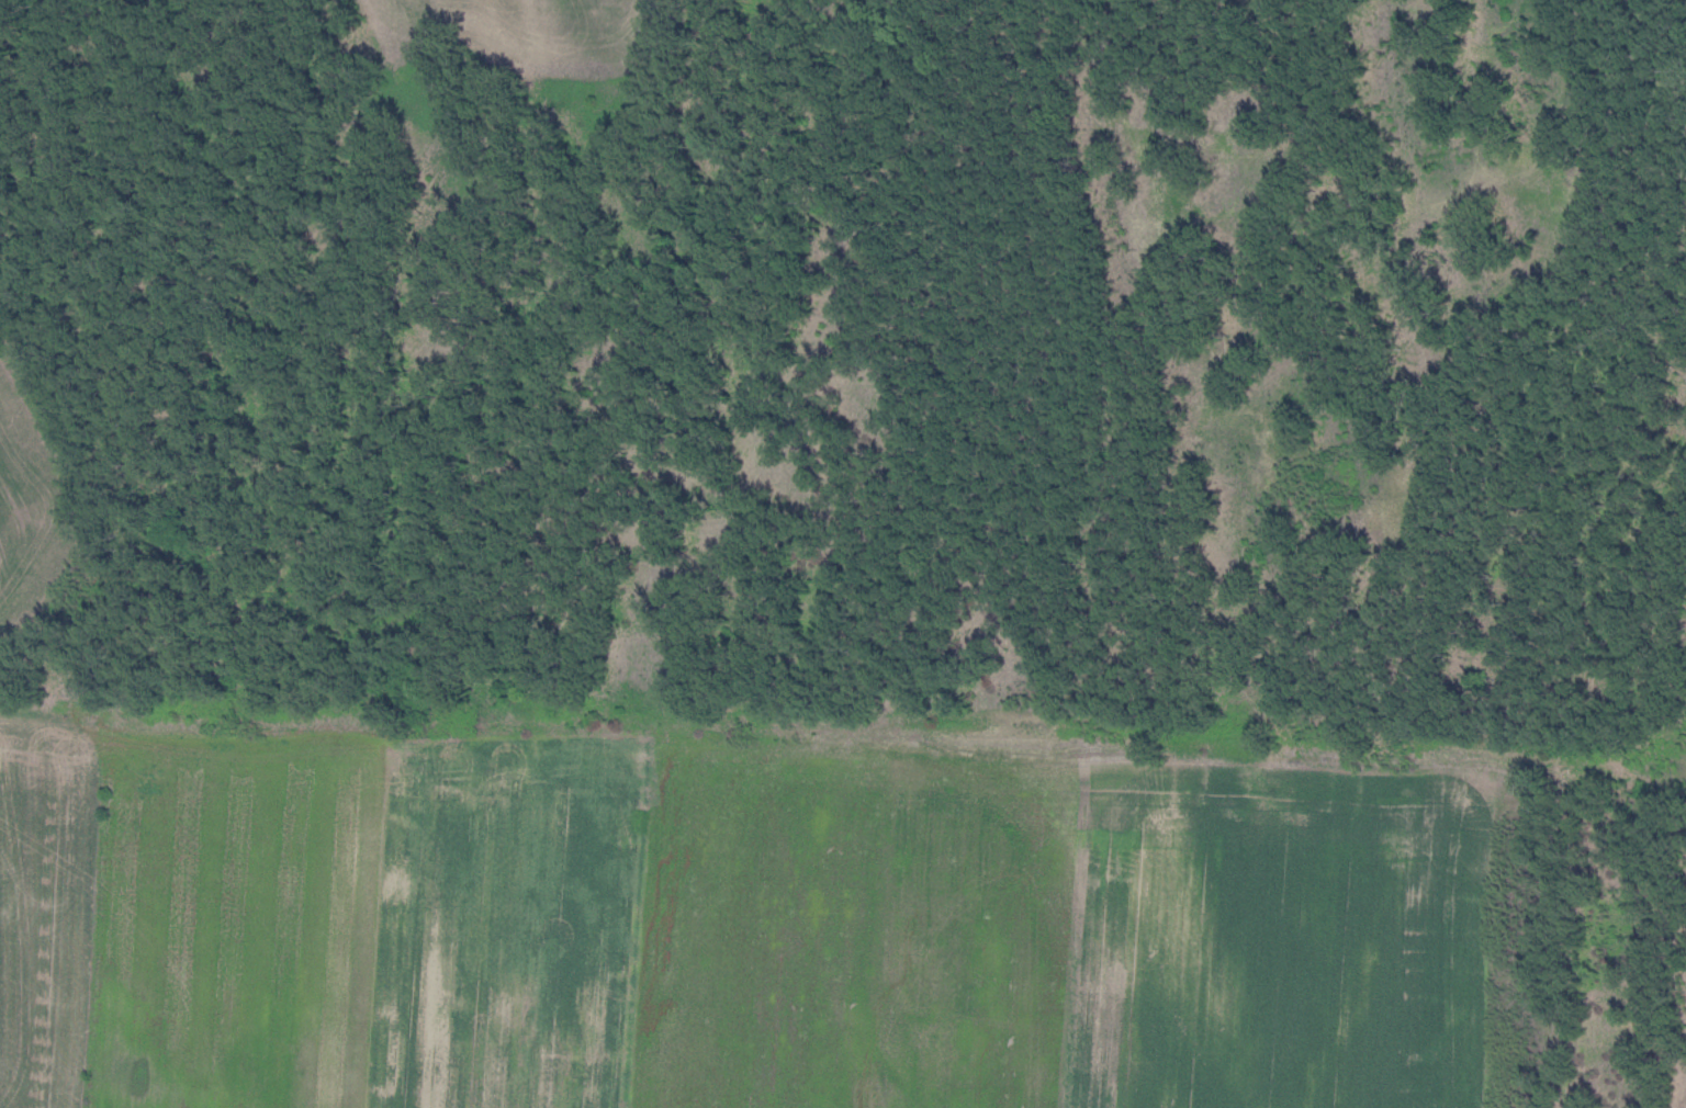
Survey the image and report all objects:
road: (843, 788)

